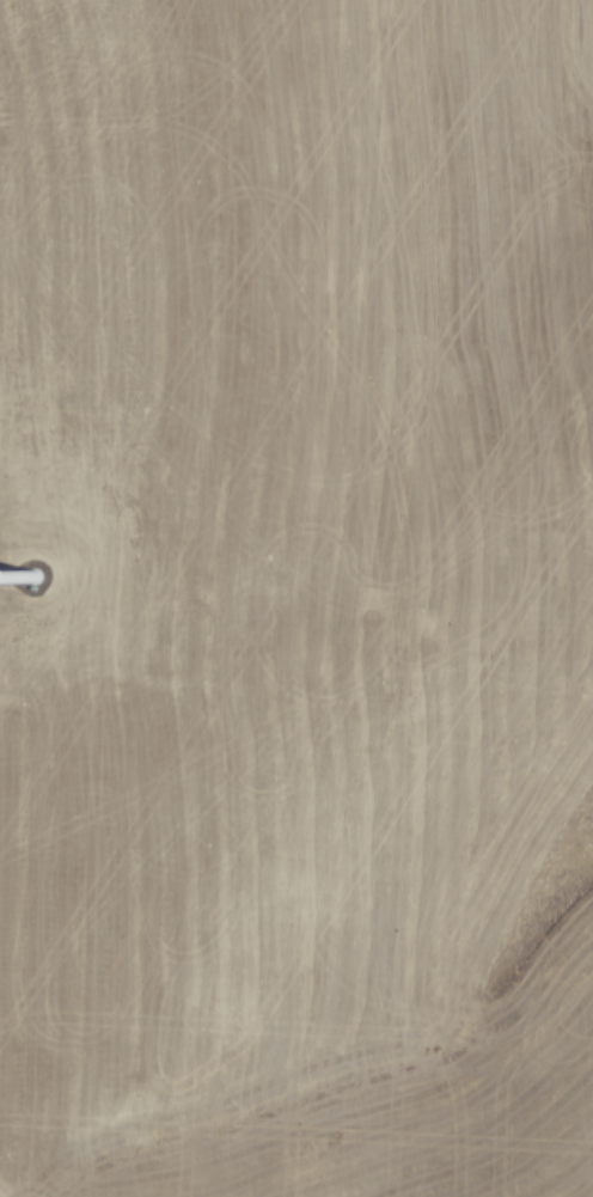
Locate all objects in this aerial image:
wind turbine: (31, 596)

